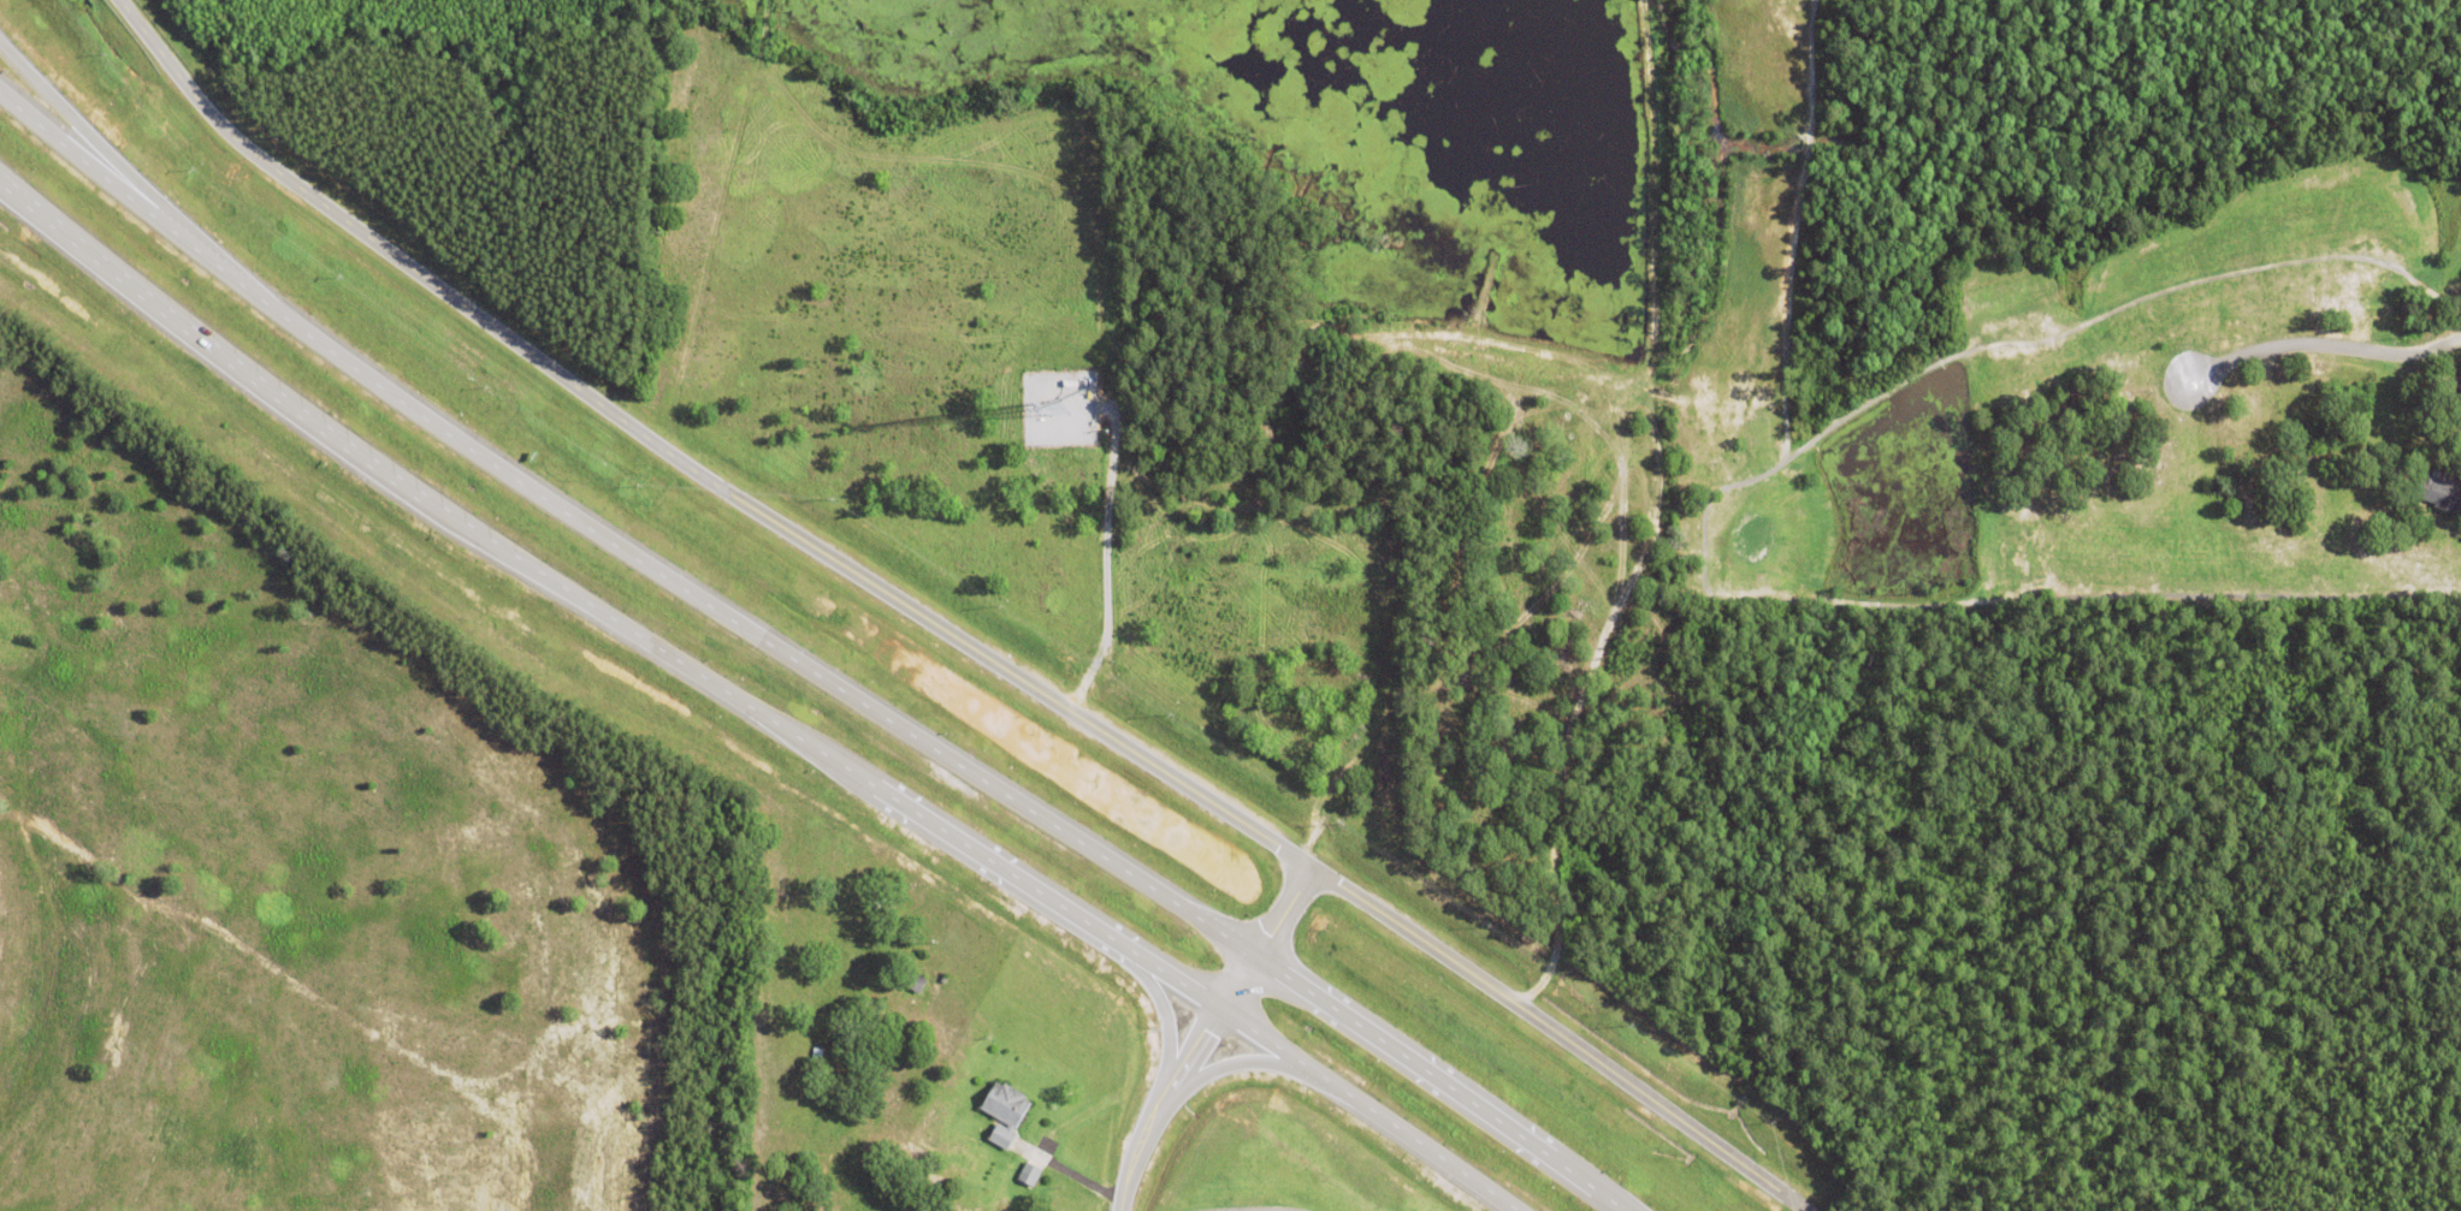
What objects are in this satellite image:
road: (82, 131)
road: (16, 192)
road: (2324, 355)
park: (2136, 414)
building: (2437, 489)
road: (939, 629)
road: (800, 666)
road: (746, 706)
building: (905, 956)
building: (907, 981)
road: (1206, 1035)
building: (817, 1051)
building: (1005, 1110)
building: (1029, 1173)

